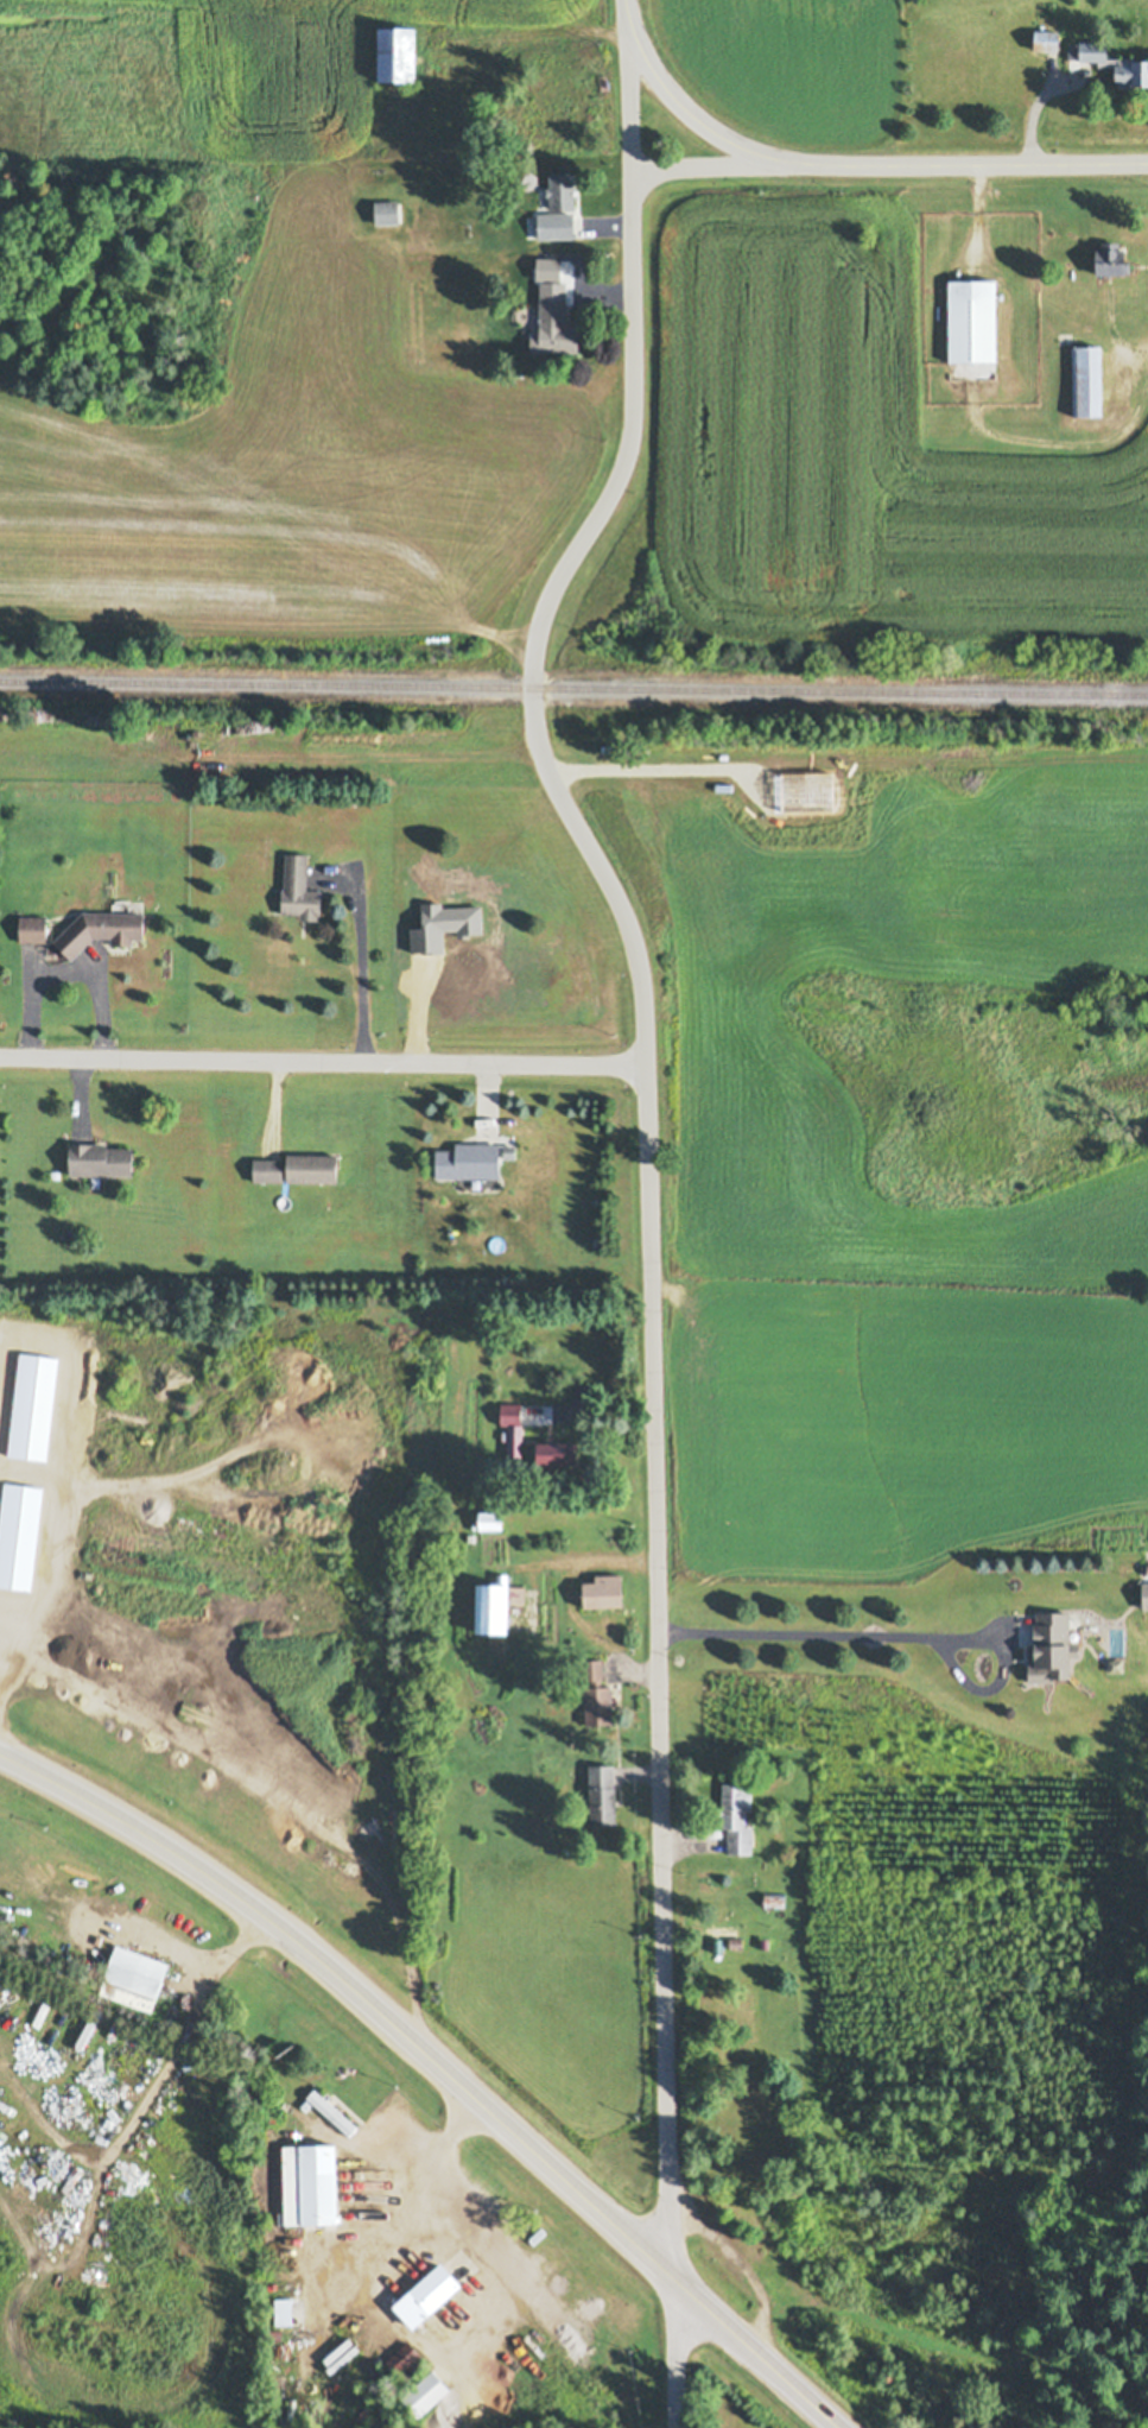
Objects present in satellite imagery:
road: (624, 8)
building: (1051, 40)
building: (1097, 50)
building: (402, 53)
building: (1133, 71)
road: (685, 110)
building: (558, 119)
road: (1032, 121)
road: (966, 162)
road: (706, 164)
building: (560, 209)
building: (388, 211)
building: (1117, 259)
building: (976, 321)
building: (558, 323)
building: (1090, 380)
railway: (573, 687)
building: (302, 889)
building: (37, 929)
building: (104, 929)
road: (361, 967)
road: (322, 1058)
building: (104, 1159)
building: (474, 1161)
building: (299, 1169)
road: (646, 1200)
building: (37, 1408)
road: (591, 1410)
building: (513, 1415)
building: (559, 1454)
road: (52, 1478)
building: (496, 1522)
building: (21, 1536)
building: (607, 1592)
building: (1147, 1595)
road: (795, 1631)
road: (984, 1635)
building: (1054, 1646)
road: (965, 1678)
building: (602, 1700)
building: (605, 1796)
building: (741, 1819)
building: (138, 1980)
road: (353, 1990)
building: (313, 2184)
road: (734, 2264)
building: (431, 2295)
road: (755, 2351)
building: (399, 2354)
building: (429, 2392)

